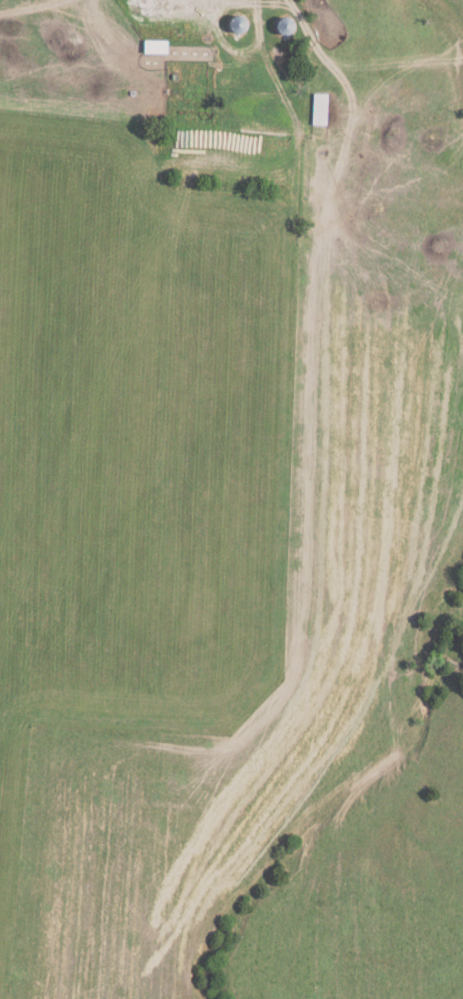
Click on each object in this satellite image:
building: (280, 30)
building: (153, 50)
building: (315, 112)

